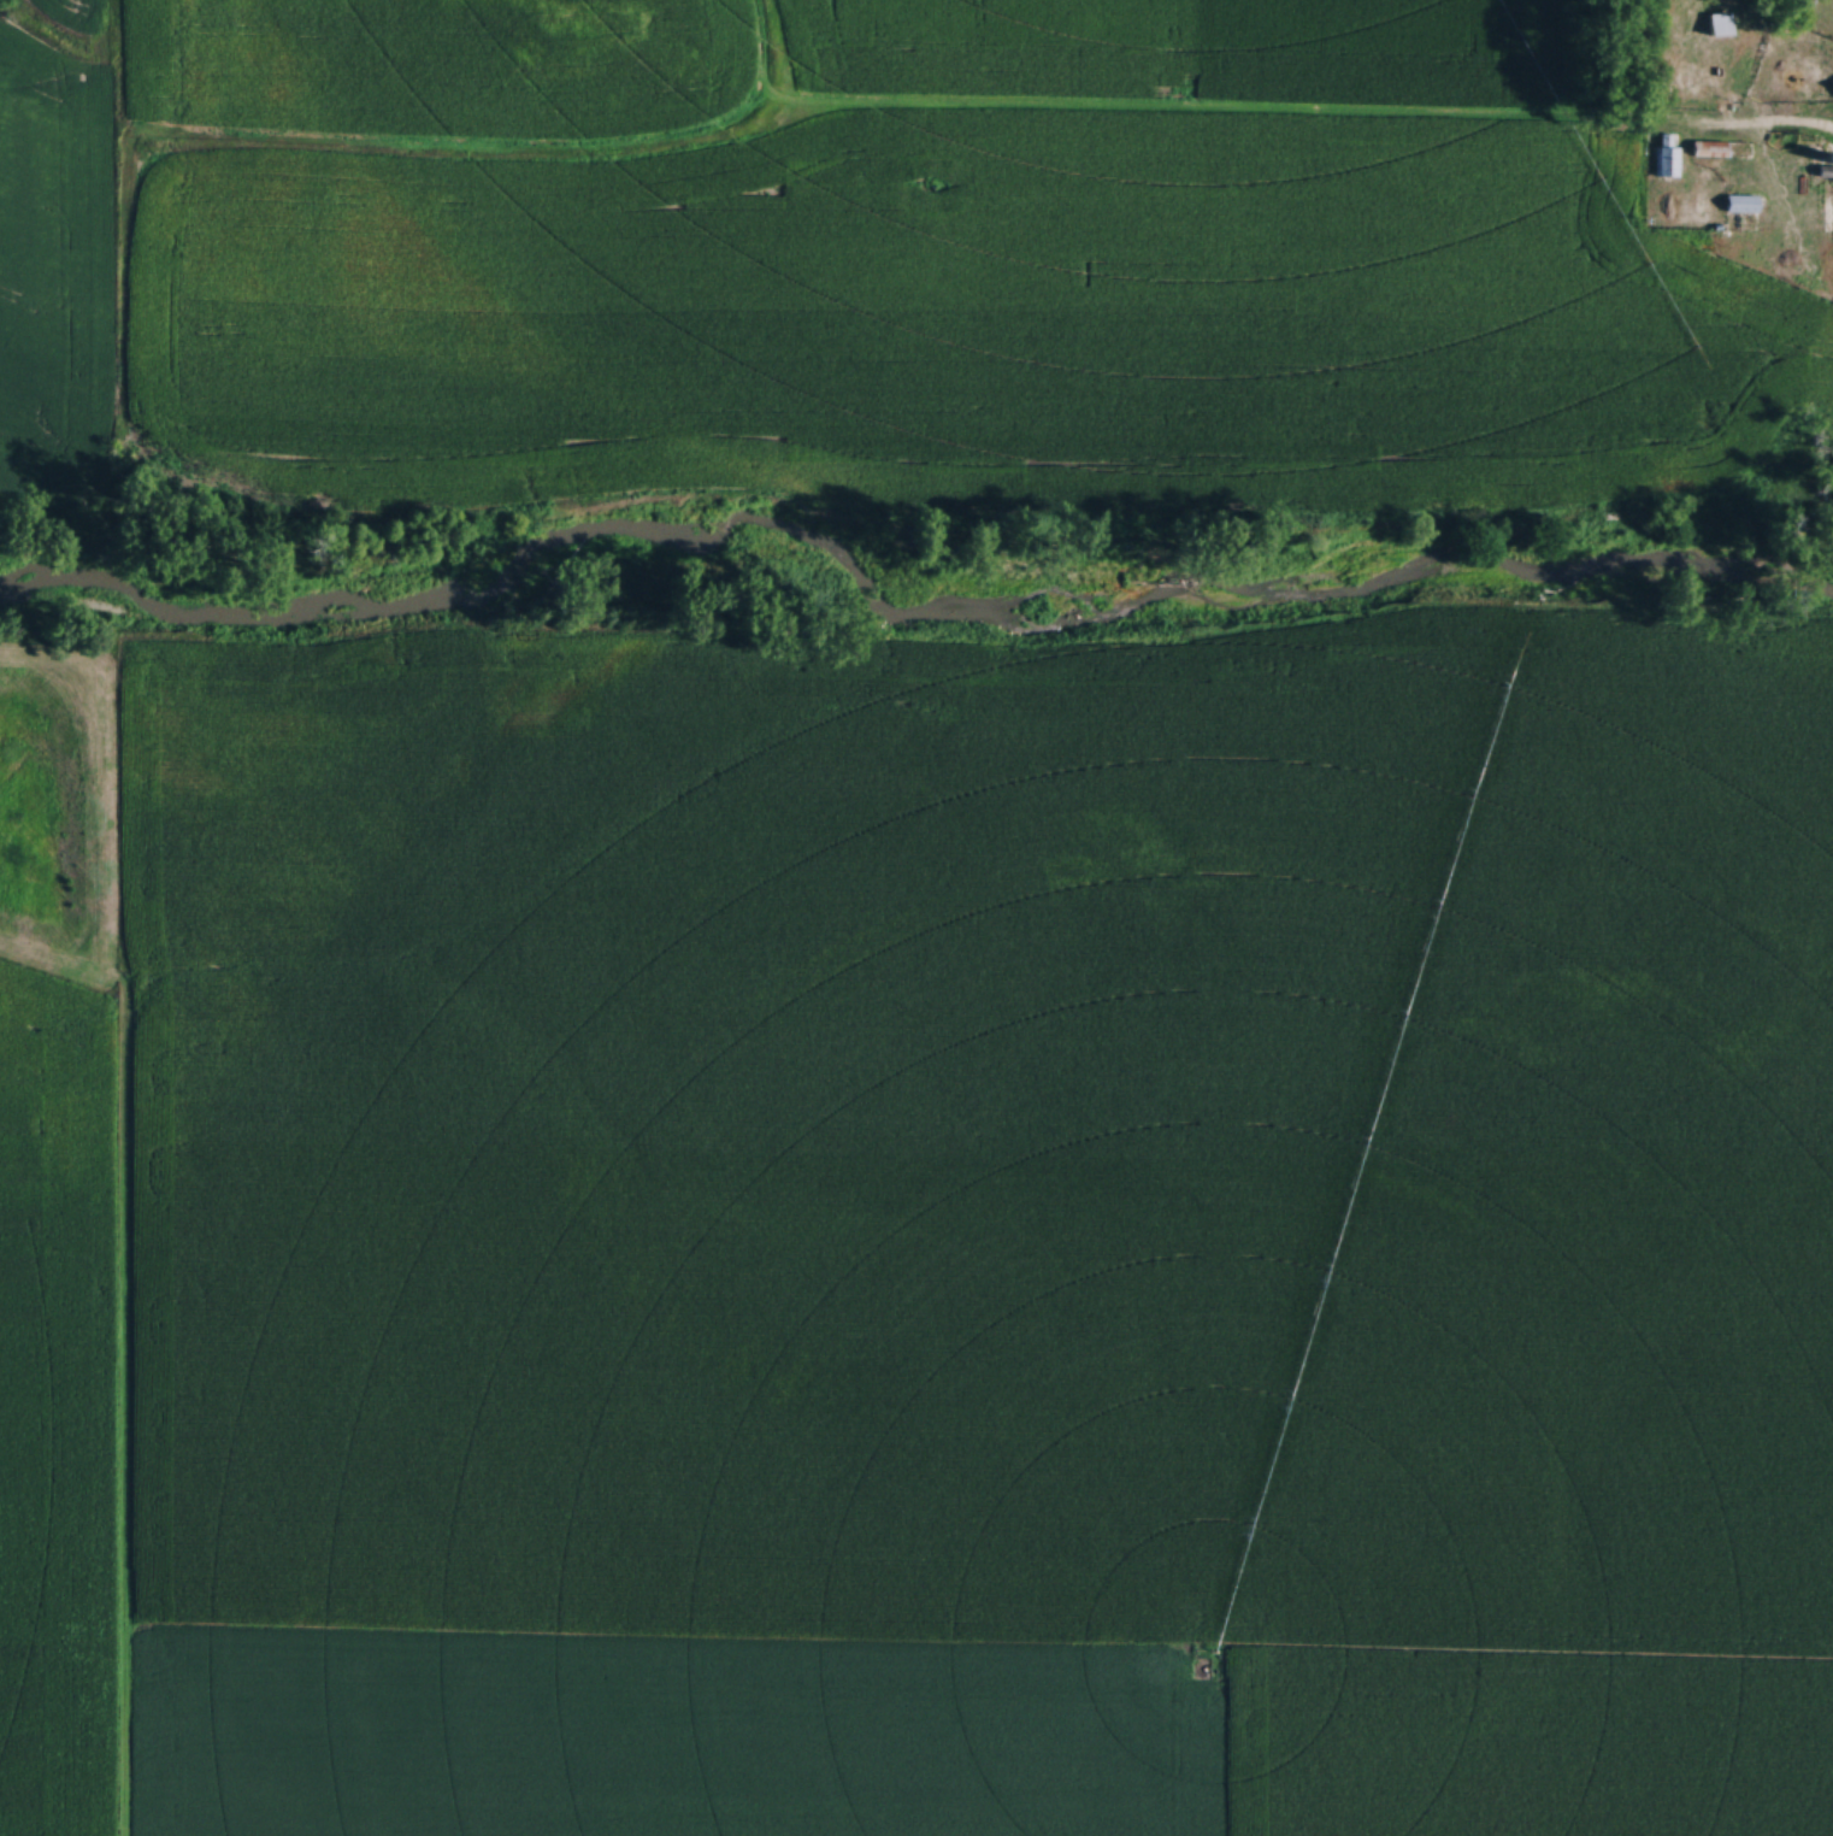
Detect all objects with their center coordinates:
building: (1720, 24)
road: (1774, 126)
building: (1666, 160)
building: (1740, 202)
building: (1829, 587)

